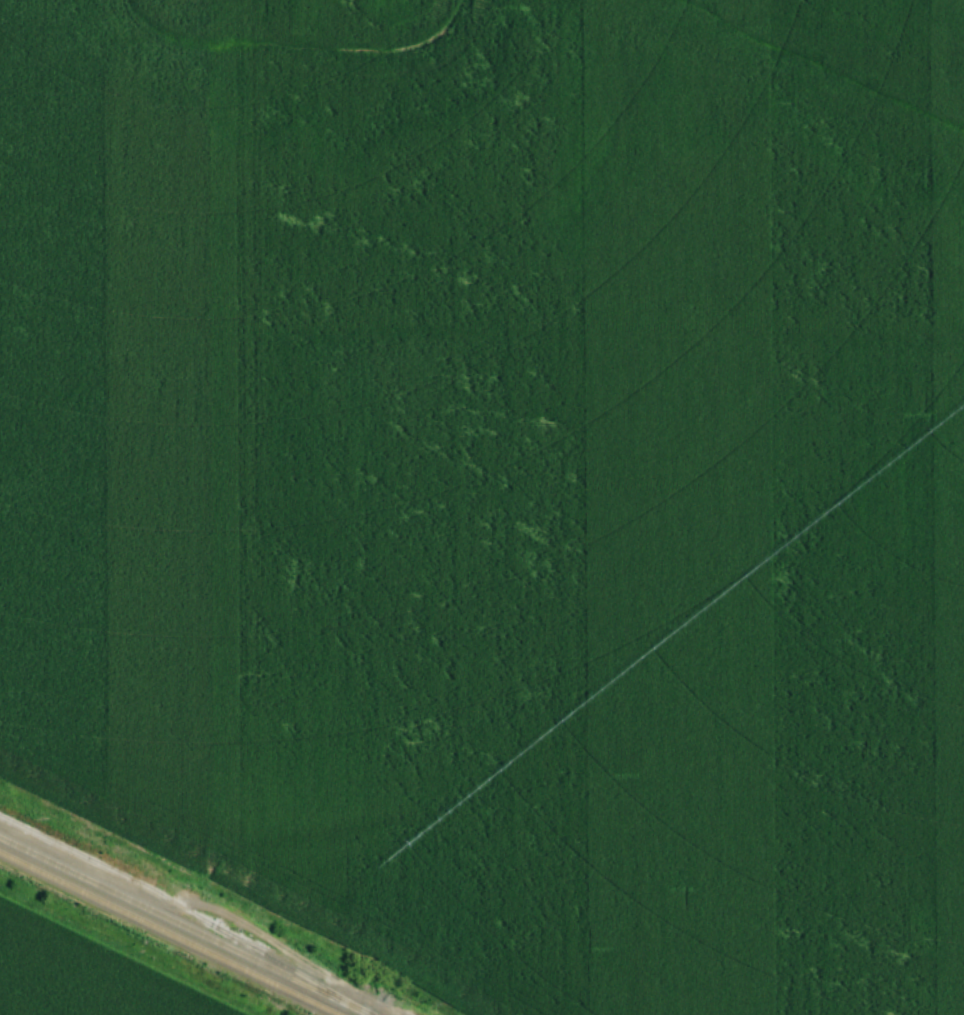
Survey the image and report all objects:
railway: (188, 913)
railway: (185, 926)
railway: (169, 933)
crop: (88, 972)

